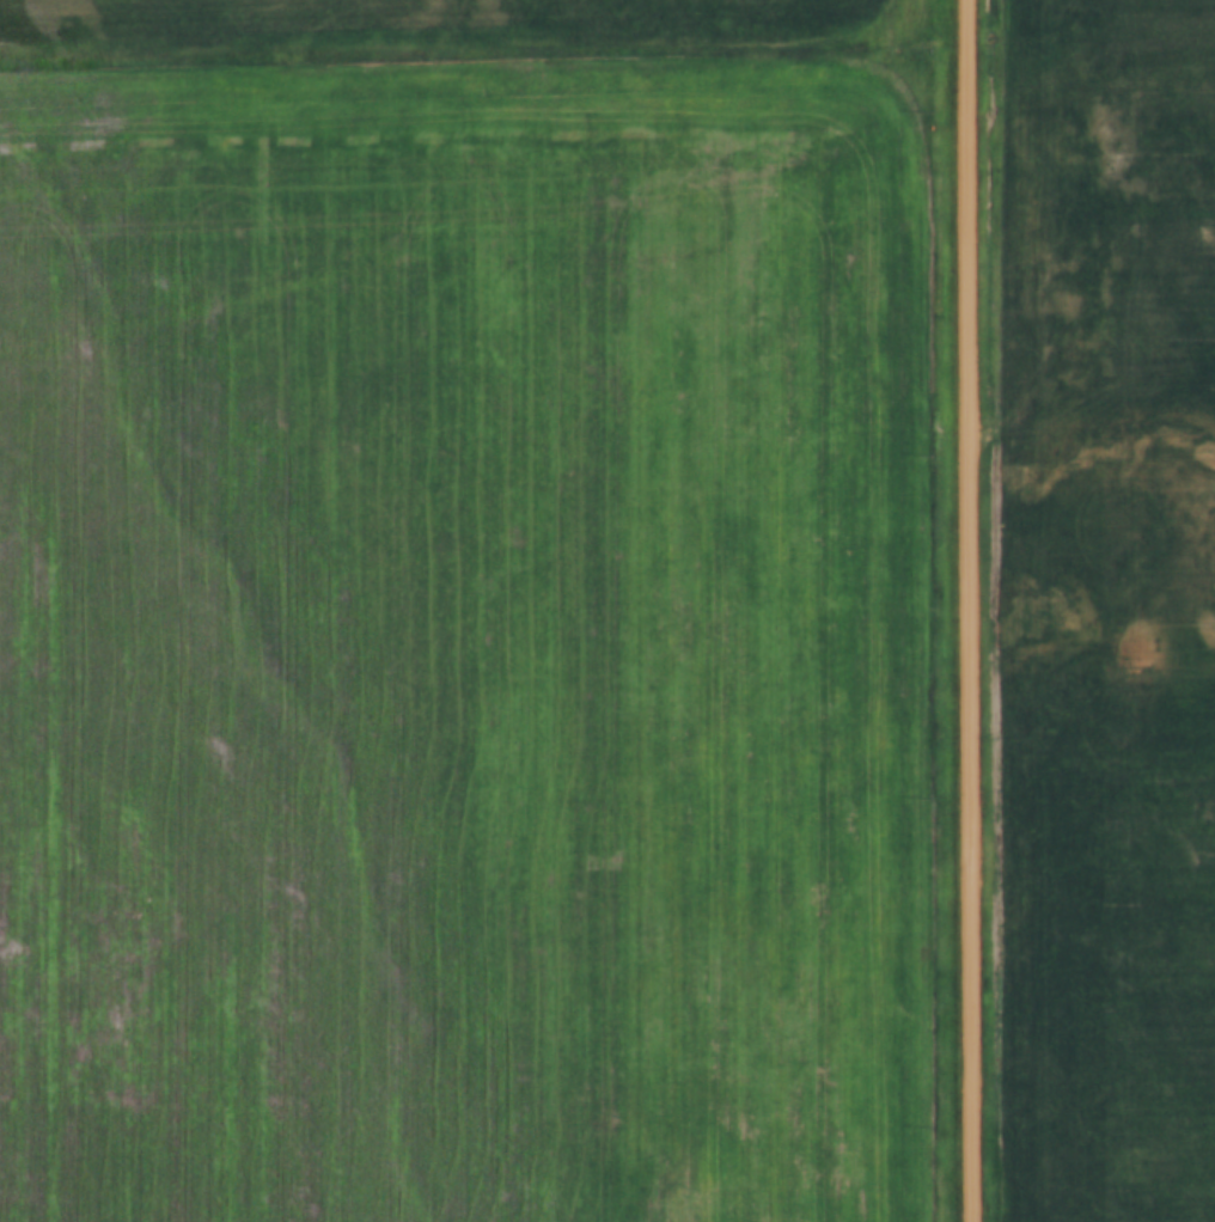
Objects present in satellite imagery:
road: (969, 611)

